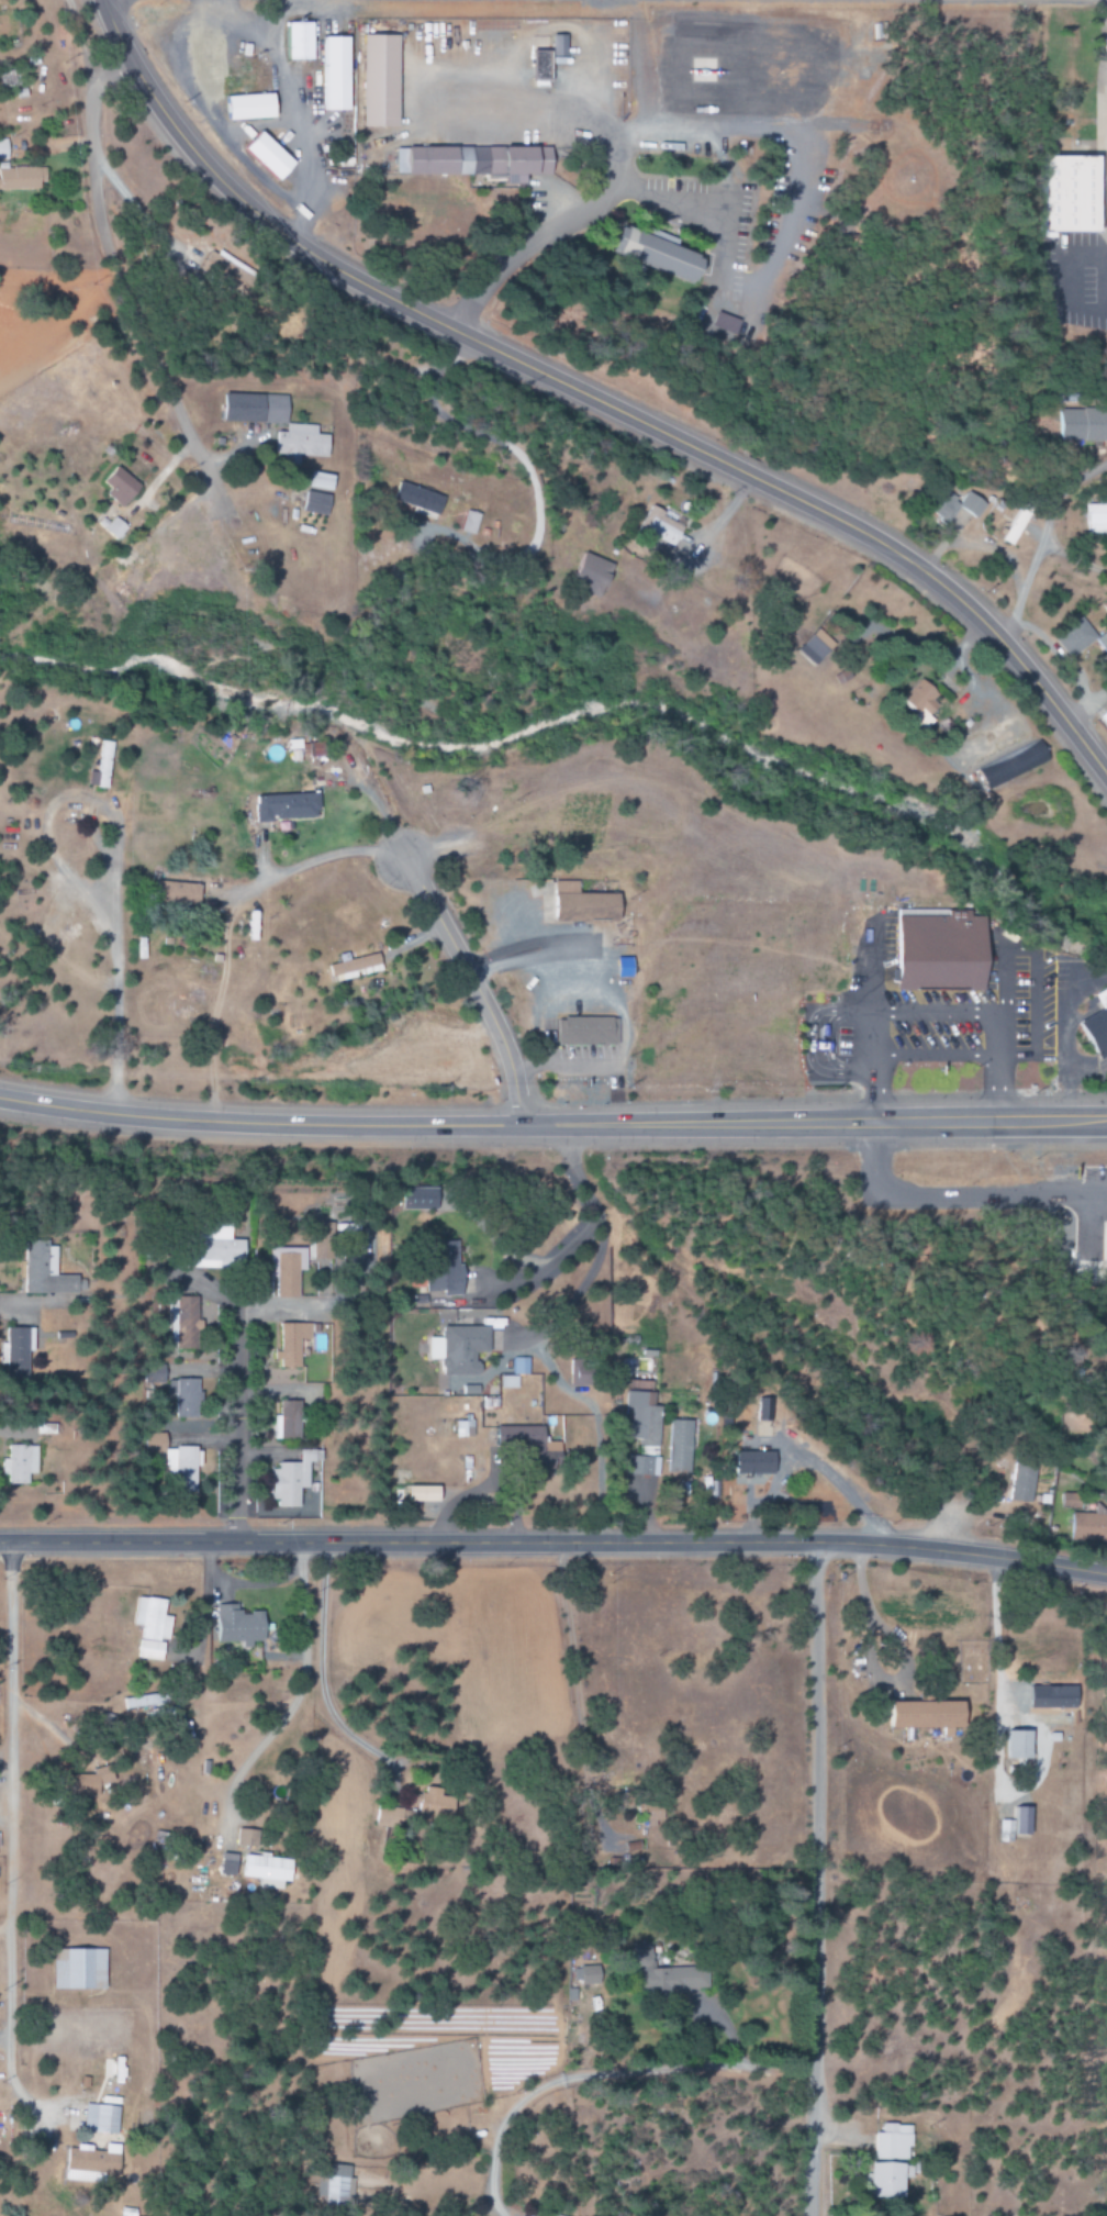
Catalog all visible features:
building: (300, 41)
building: (559, 45)
building: (209, 56)
building: (541, 65)
building: (336, 73)
building: (380, 81)
building: (251, 107)
building: (3, 149)
building: (270, 156)
building: (474, 162)
building: (21, 178)
building: (1072, 193)
building: (658, 253)
building: (227, 272)
road: (120, 289)
building: (735, 326)
road: (592, 400)
building: (256, 408)
building: (1082, 424)
building: (301, 443)
building: (321, 481)
building: (120, 486)
building: (420, 500)
building: (316, 503)
building: (957, 506)
building: (1096, 517)
building: (470, 522)
building: (1015, 525)
building: (660, 526)
building: (113, 527)
building: (593, 574)
building: (1081, 639)
building: (816, 646)
building: (921, 702)
building: (1105, 716)
building: (303, 749)
building: (1013, 765)
building: (102, 768)
building: (286, 805)
building: (177, 892)
building: (584, 903)
building: (941, 949)
building: (624, 966)
building: (355, 967)
road: (469, 985)
building: (1098, 1025)
building: (586, 1031)
road: (552, 1125)
building: (420, 1198)
building: (214, 1246)
building: (1105, 1255)
building: (445, 1268)
building: (287, 1269)
building: (45, 1270)
building: (183, 1322)
building: (291, 1343)
building: (16, 1348)
building: (459, 1349)
building: (521, 1366)
building: (579, 1372)
building: (154, 1373)
building: (508, 1381)
building: (183, 1396)
building: (763, 1408)
building: (642, 1412)
road: (235, 1415)
building: (287, 1419)
building: (465, 1428)
building: (679, 1446)
building: (535, 1448)
building: (176, 1461)
building: (20, 1462)
building: (756, 1462)
building: (634, 1465)
building: (291, 1479)
building: (1022, 1481)
building: (424, 1493)
building: (1070, 1500)
building: (1089, 1524)
road: (553, 1543)
building: (239, 1625)
building: (152, 1627)
building: (916, 1714)
building: (1010, 1744)
building: (83, 1784)
building: (417, 1801)
building: (1011, 1823)
building: (244, 1838)
building: (222, 1863)
building: (264, 1870)
road: (812, 1879)
building: (79, 1969)
building: (658, 1974)
building: (581, 1976)
building: (101, 2119)
building: (884, 2161)
building: (91, 2163)
building: (331, 2185)

